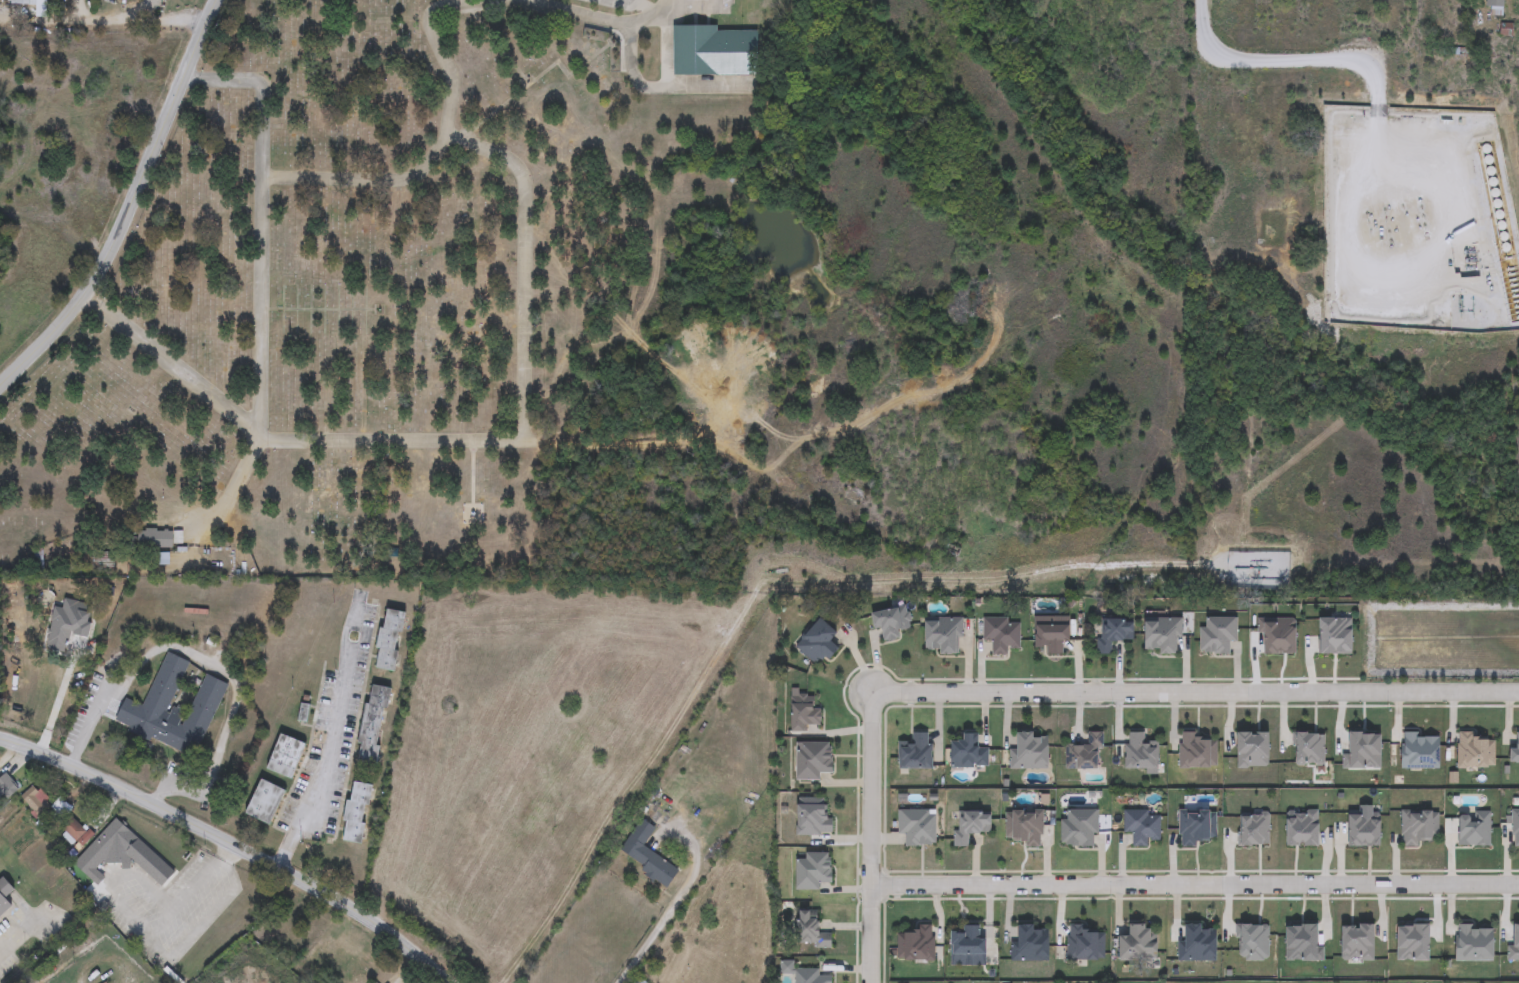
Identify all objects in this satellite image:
building: (23, 2)
road: (696, 6)
building: (1497, 7)
road: (137, 19)
road: (596, 19)
road: (665, 49)
building: (714, 51)
road: (1276, 55)
road: (663, 86)
road: (261, 92)
road: (436, 149)
road: (131, 208)
road: (258, 306)
park: (417, 315)
road: (172, 365)
road: (523, 393)
road: (784, 457)
road: (231, 490)
building: (156, 539)
road: (755, 591)
building: (892, 622)
building: (1115, 634)
building: (1002, 635)
building: (1219, 635)
building: (944, 636)
building: (1164, 636)
building: (1053, 638)
building: (391, 640)
building: (820, 643)
road: (208, 661)
road: (1194, 694)
building: (173, 711)
building: (806, 714)
building: (373, 726)
building: (1198, 751)
building: (1477, 751)
building: (917, 752)
building: (1032, 752)
building: (1140, 752)
building: (1422, 752)
building: (970, 753)
building: (1516, 753)
building: (1085, 754)
building: (286, 757)
building: (813, 761)
road: (324, 765)
building: (6, 788)
building: (266, 802)
building: (44, 808)
building: (357, 812)
building: (814, 818)
building: (973, 825)
building: (1142, 826)
building: (1419, 826)
building: (918, 827)
building: (1197, 827)
building: (1516, 827)
building: (1026, 828)
building: (1080, 828)
building: (1475, 830)
building: (74, 833)
road: (869, 839)
road: (236, 846)
building: (647, 854)
building: (123, 855)
building: (814, 870)
road: (195, 882)
road: (1194, 885)
building: (4, 897)
road: (675, 903)
building: (813, 931)
road: (16, 932)
building: (970, 942)
building: (1033, 944)
building: (1085, 944)
building: (1140, 944)
building: (1199, 944)
building: (1477, 944)
building: (918, 945)
building: (814, 976)
building: (641, 981)

